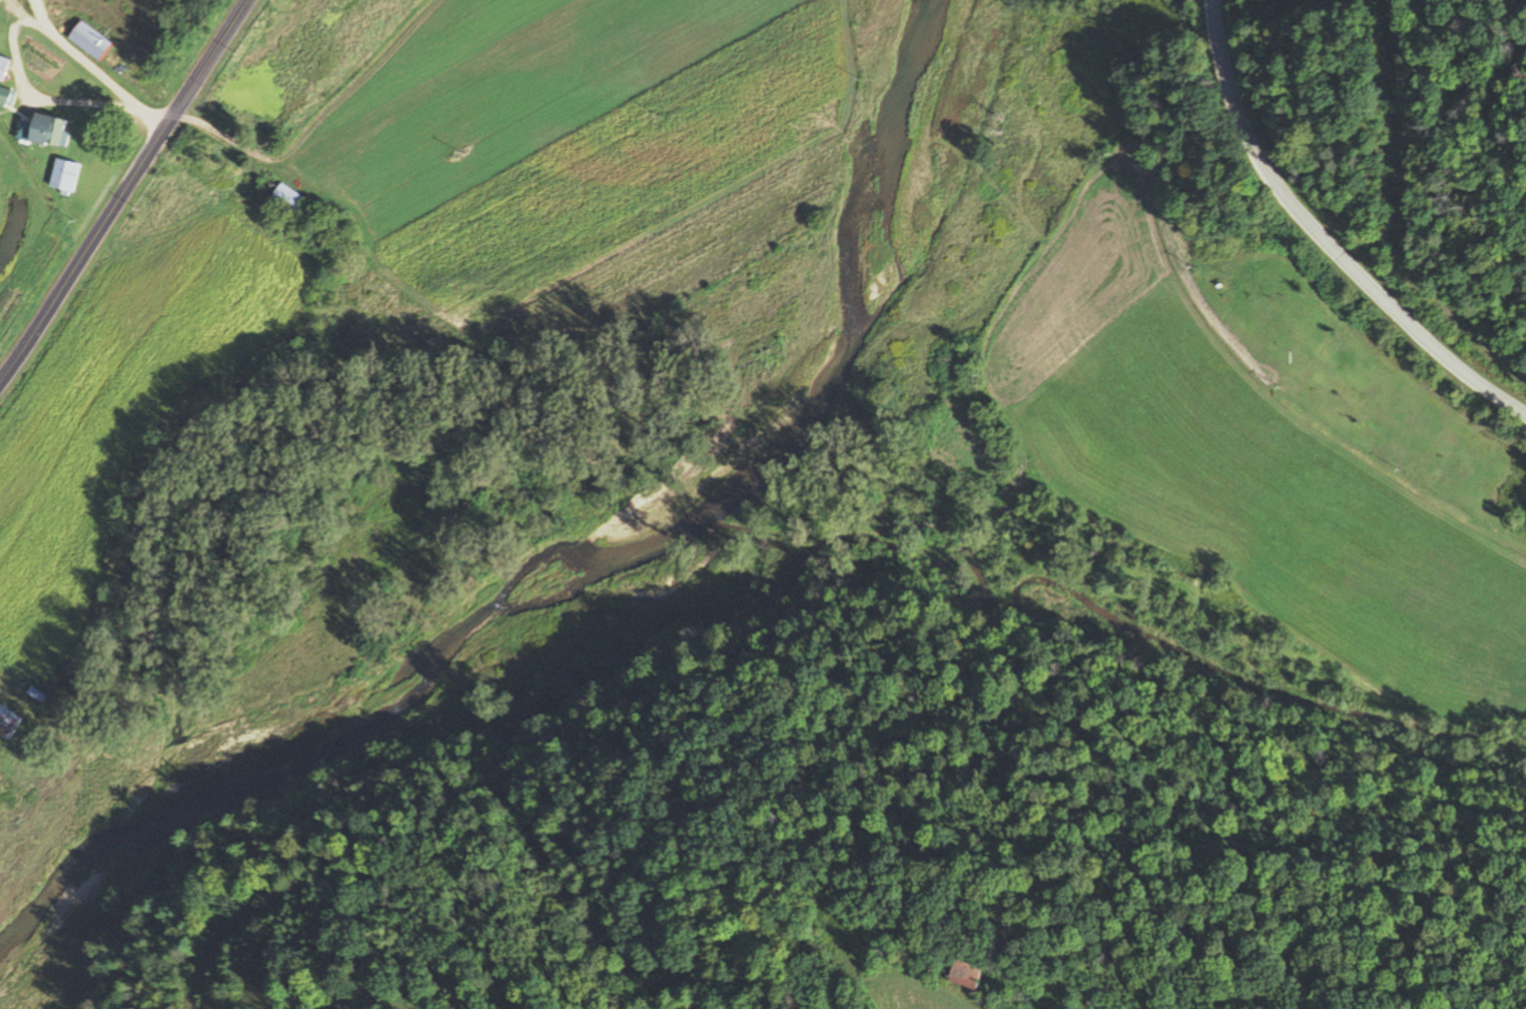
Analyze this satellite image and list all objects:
building: (86, 41)
building: (2, 66)
road: (96, 67)
building: (3, 97)
building: (41, 132)
building: (61, 176)
road: (125, 193)
building: (284, 200)
road: (1322, 239)
river: (586, 552)
building: (8, 722)
building: (970, 975)
road: (5, 984)

